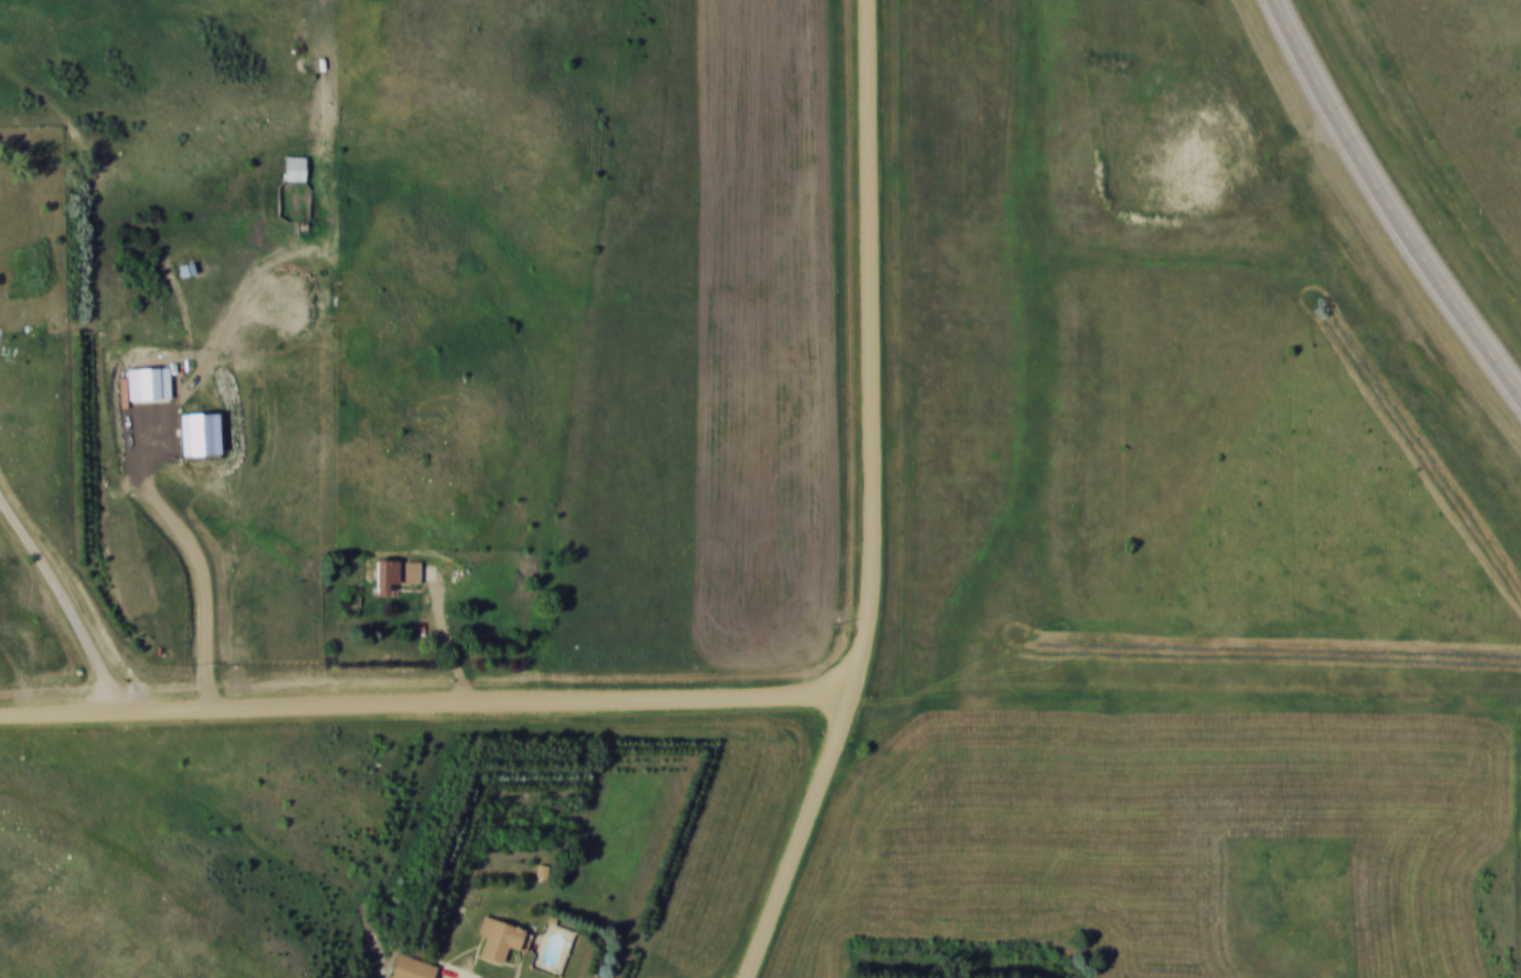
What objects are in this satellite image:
building: (295, 168)
road: (1387, 204)
building: (187, 269)
road: (870, 349)
building: (396, 573)
road: (68, 601)
road: (454, 642)
road: (425, 700)
road: (800, 837)
building: (498, 938)
building: (413, 968)
road: (460, 976)

